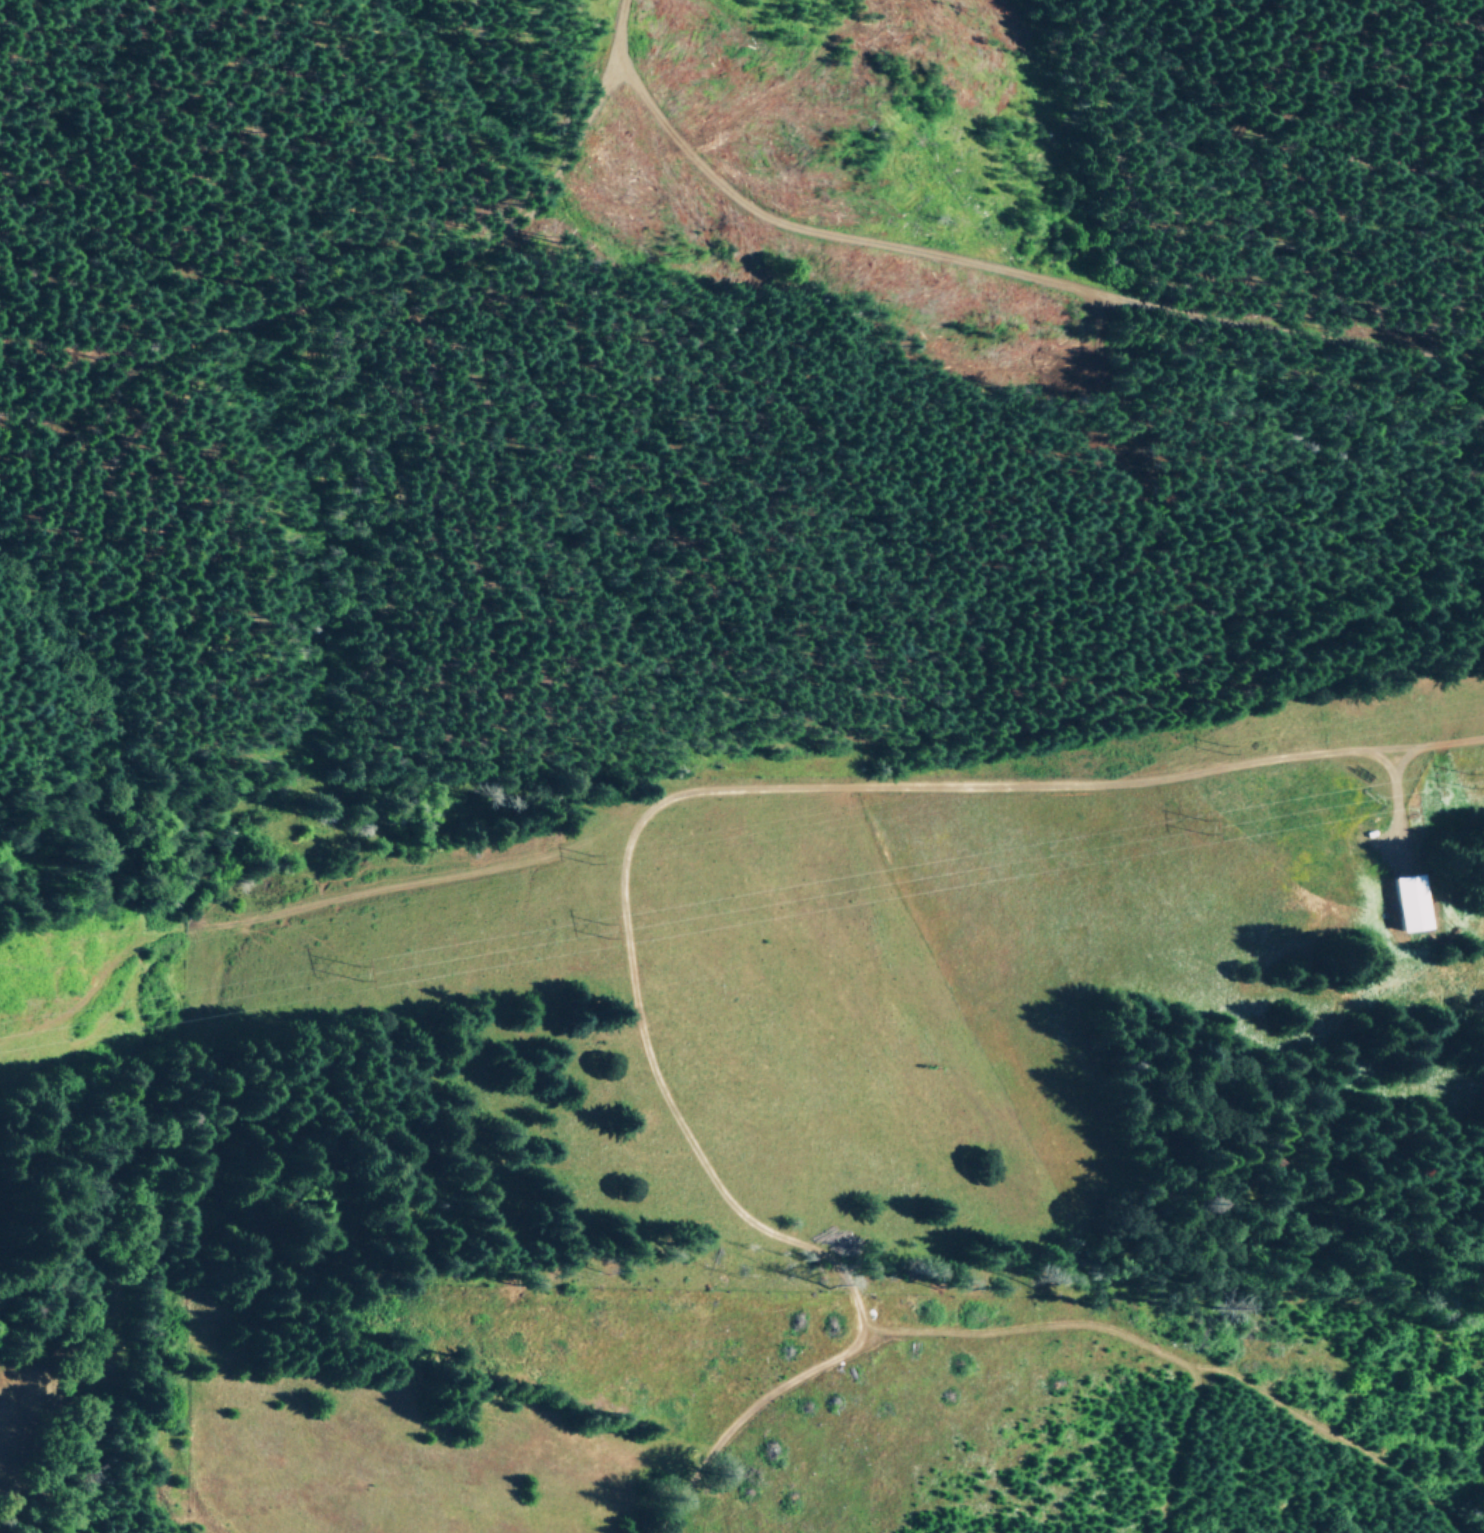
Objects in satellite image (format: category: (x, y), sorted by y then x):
power tower: (1482, 778)
power tower: (1215, 825)
building: (1408, 901)
power tower: (614, 930)
power tower: (369, 976)

